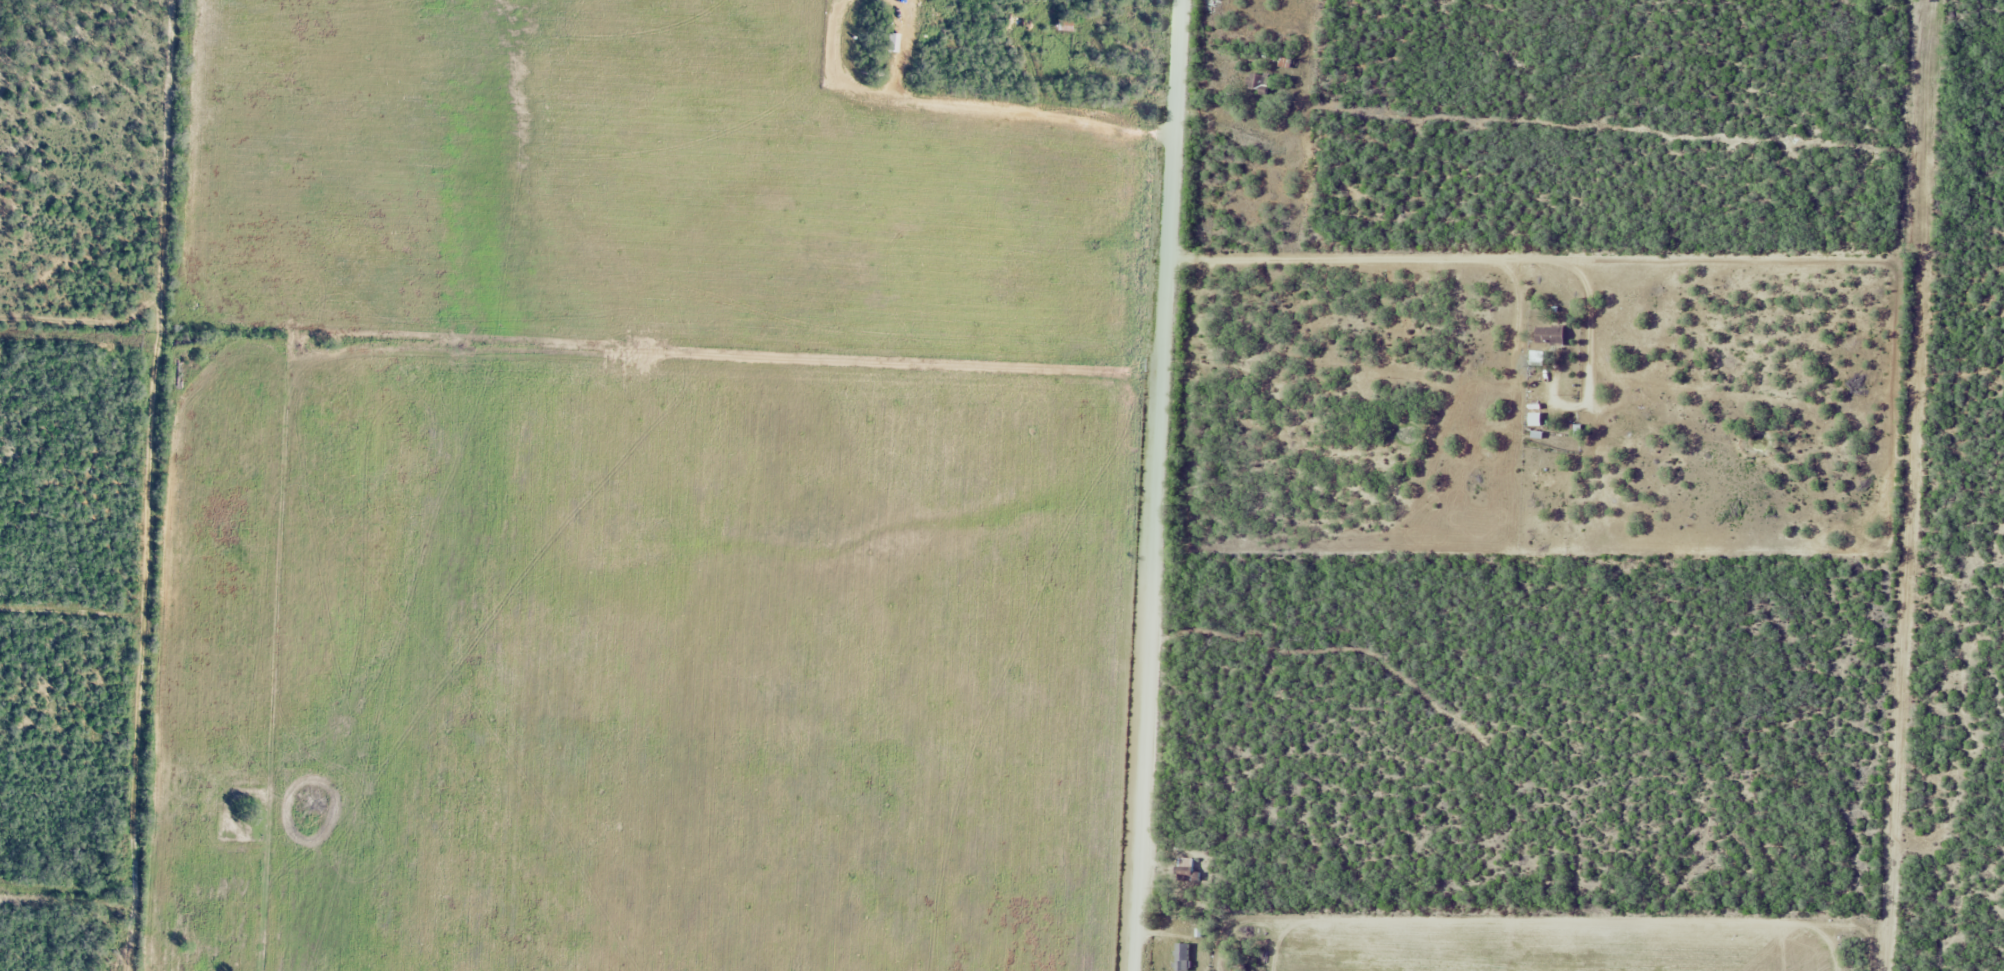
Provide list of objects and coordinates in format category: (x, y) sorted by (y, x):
building: (894, 40)
building: (1553, 334)
building: (1540, 357)
road: (1156, 485)
building: (1188, 868)
building: (1183, 956)

